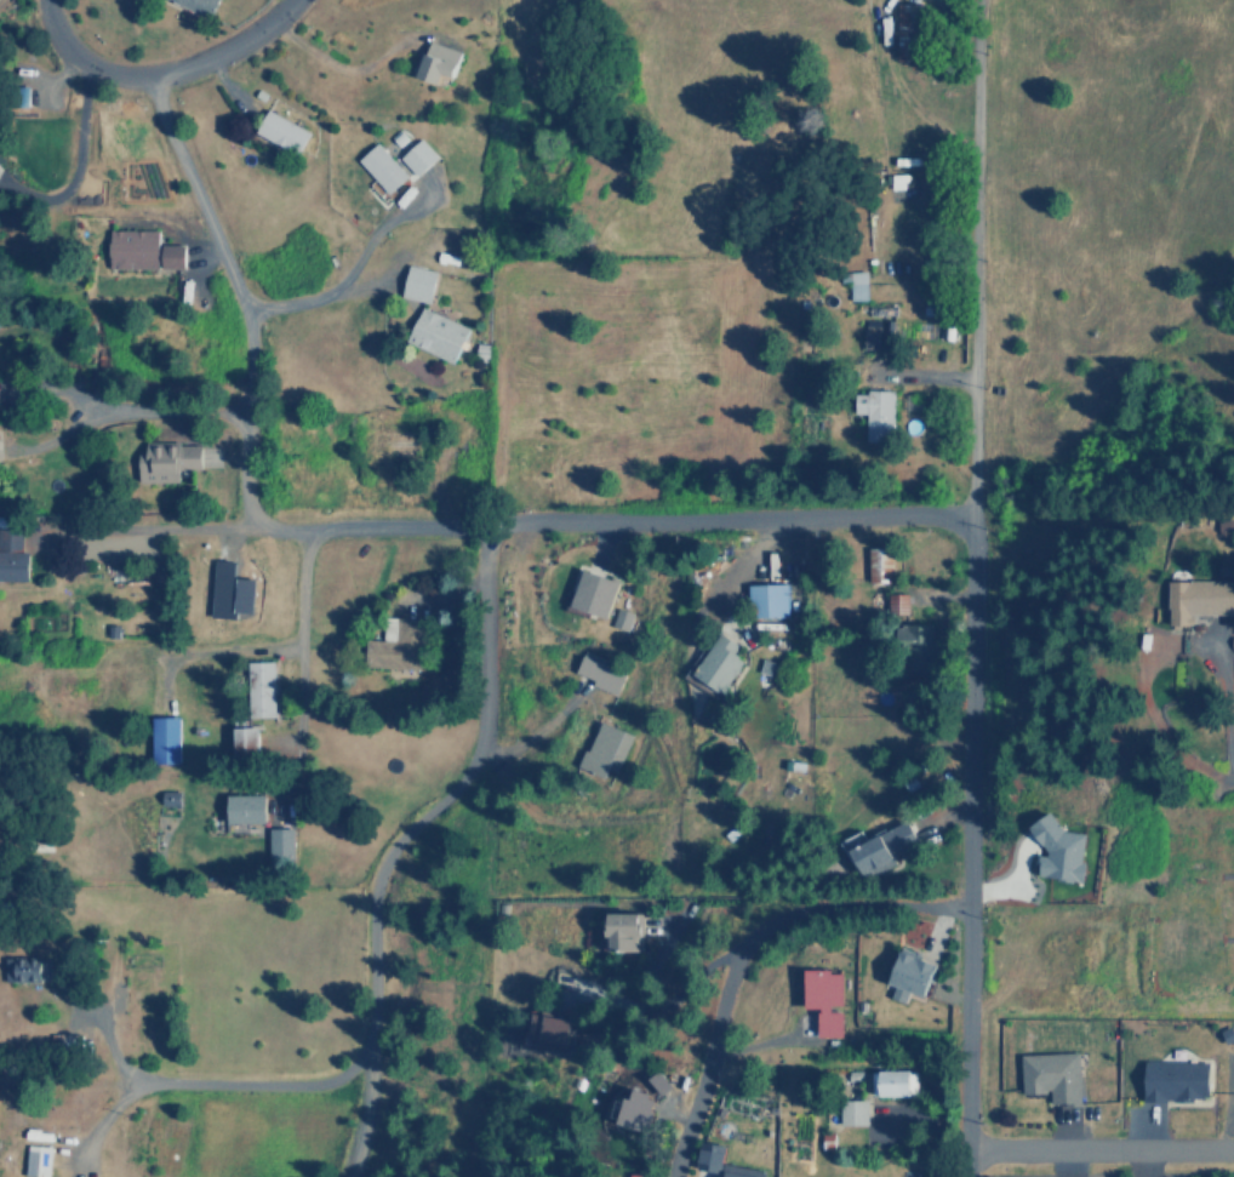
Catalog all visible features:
building: (199, 6)
building: (440, 62)
road: (158, 73)
building: (282, 131)
building: (418, 155)
building: (383, 166)
building: (143, 250)
road: (971, 259)
road: (350, 272)
building: (419, 282)
building: (858, 285)
road: (246, 318)
building: (879, 333)
building: (438, 335)
road: (170, 411)
building: (875, 413)
building: (167, 461)
road: (721, 520)
building: (1226, 525)
road: (149, 530)
building: (13, 554)
building: (880, 564)
road: (302, 590)
building: (230, 592)
building: (596, 593)
building: (769, 599)
building: (1199, 599)
building: (897, 601)
building: (622, 618)
building: (916, 636)
building: (716, 664)
building: (601, 674)
building: (262, 689)
building: (166, 738)
building: (247, 739)
building: (606, 749)
building: (247, 807)
building: (280, 845)
building: (886, 846)
road: (966, 847)
building: (1059, 850)
road: (372, 927)
building: (625, 931)
road: (741, 949)
building: (23, 969)
building: (912, 975)
building: (825, 999)
building: (549, 1028)
building: (1053, 1076)
building: (1177, 1080)
building: (895, 1082)
road: (366, 1109)
building: (636, 1109)
building: (853, 1112)
building: (828, 1141)
road: (1099, 1143)
building: (714, 1154)
building: (38, 1160)

